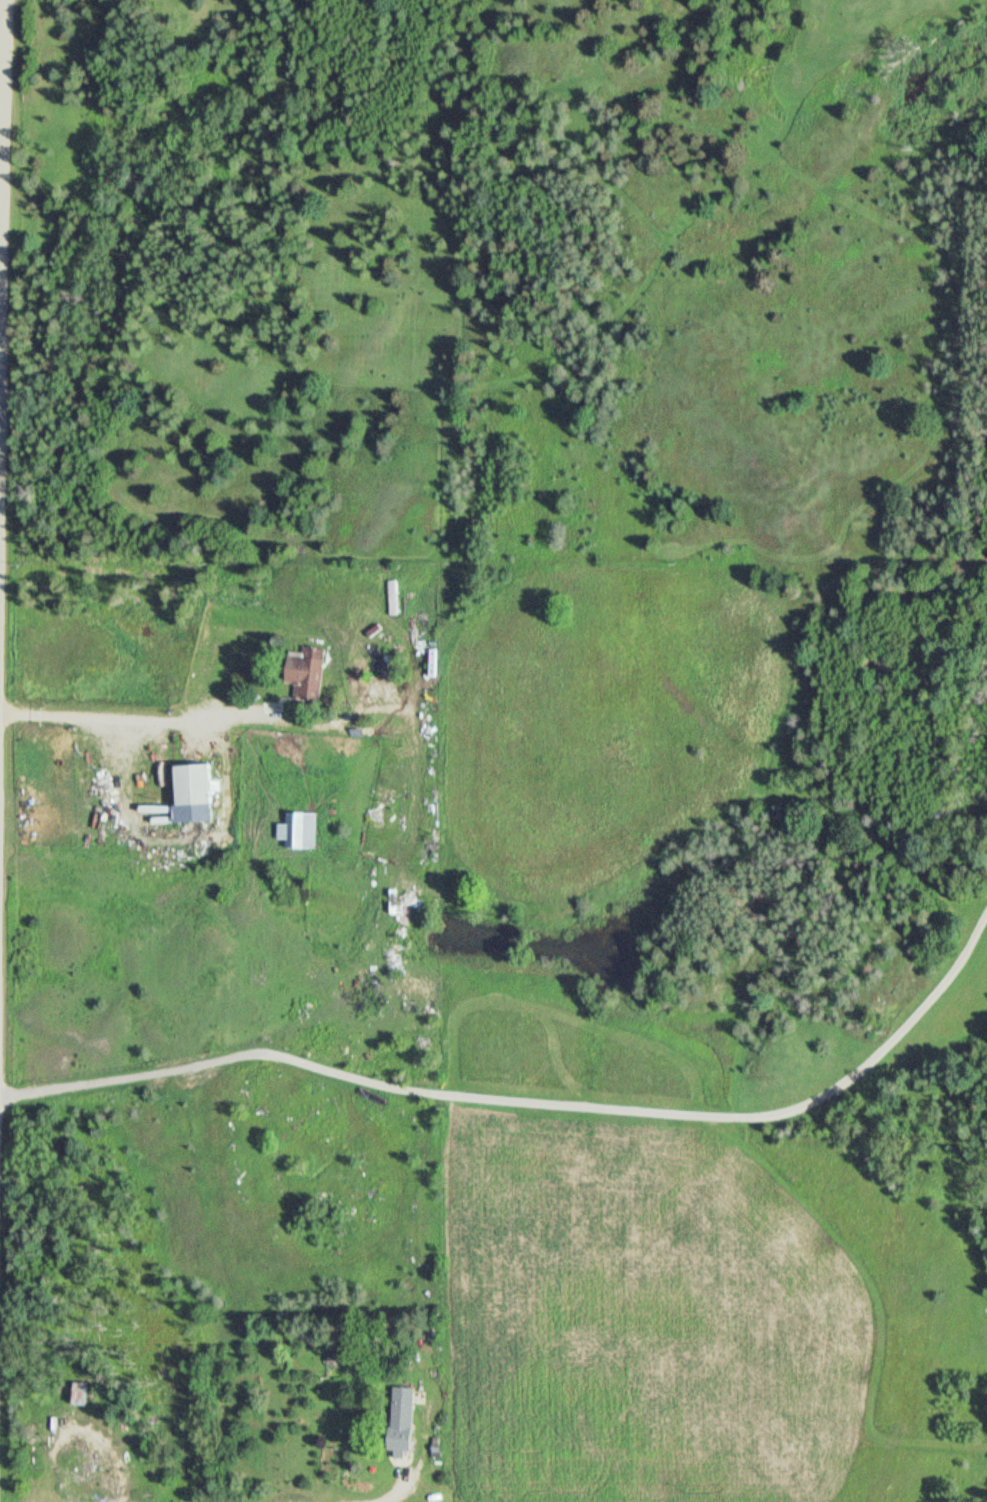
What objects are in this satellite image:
road: (3, 601)
building: (301, 675)
road: (132, 721)
building: (193, 793)
building: (380, 806)
building: (300, 831)
road: (1, 1044)
road: (538, 1105)
building: (387, 1278)
building: (81, 1395)
building: (401, 1423)
road: (397, 1492)

